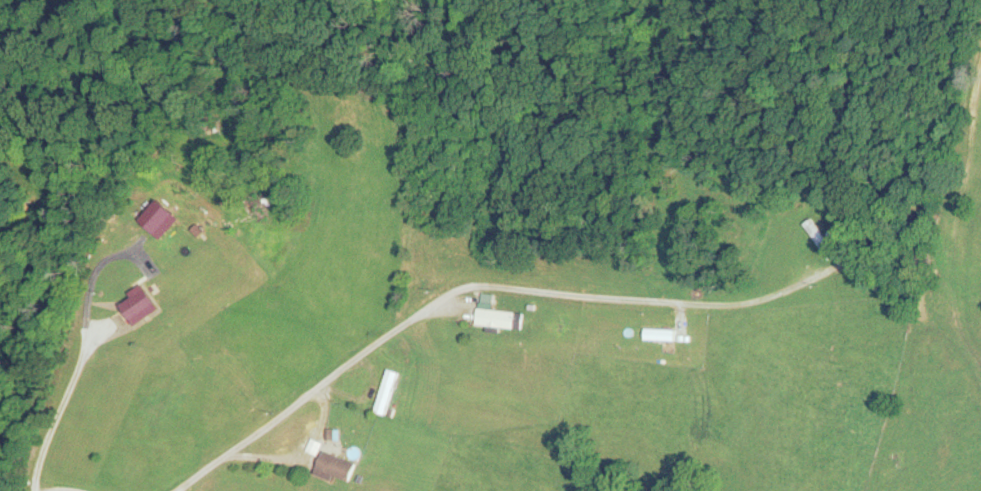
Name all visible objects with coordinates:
building: (140, 307)
building: (494, 314)
building: (659, 334)
building: (333, 467)

